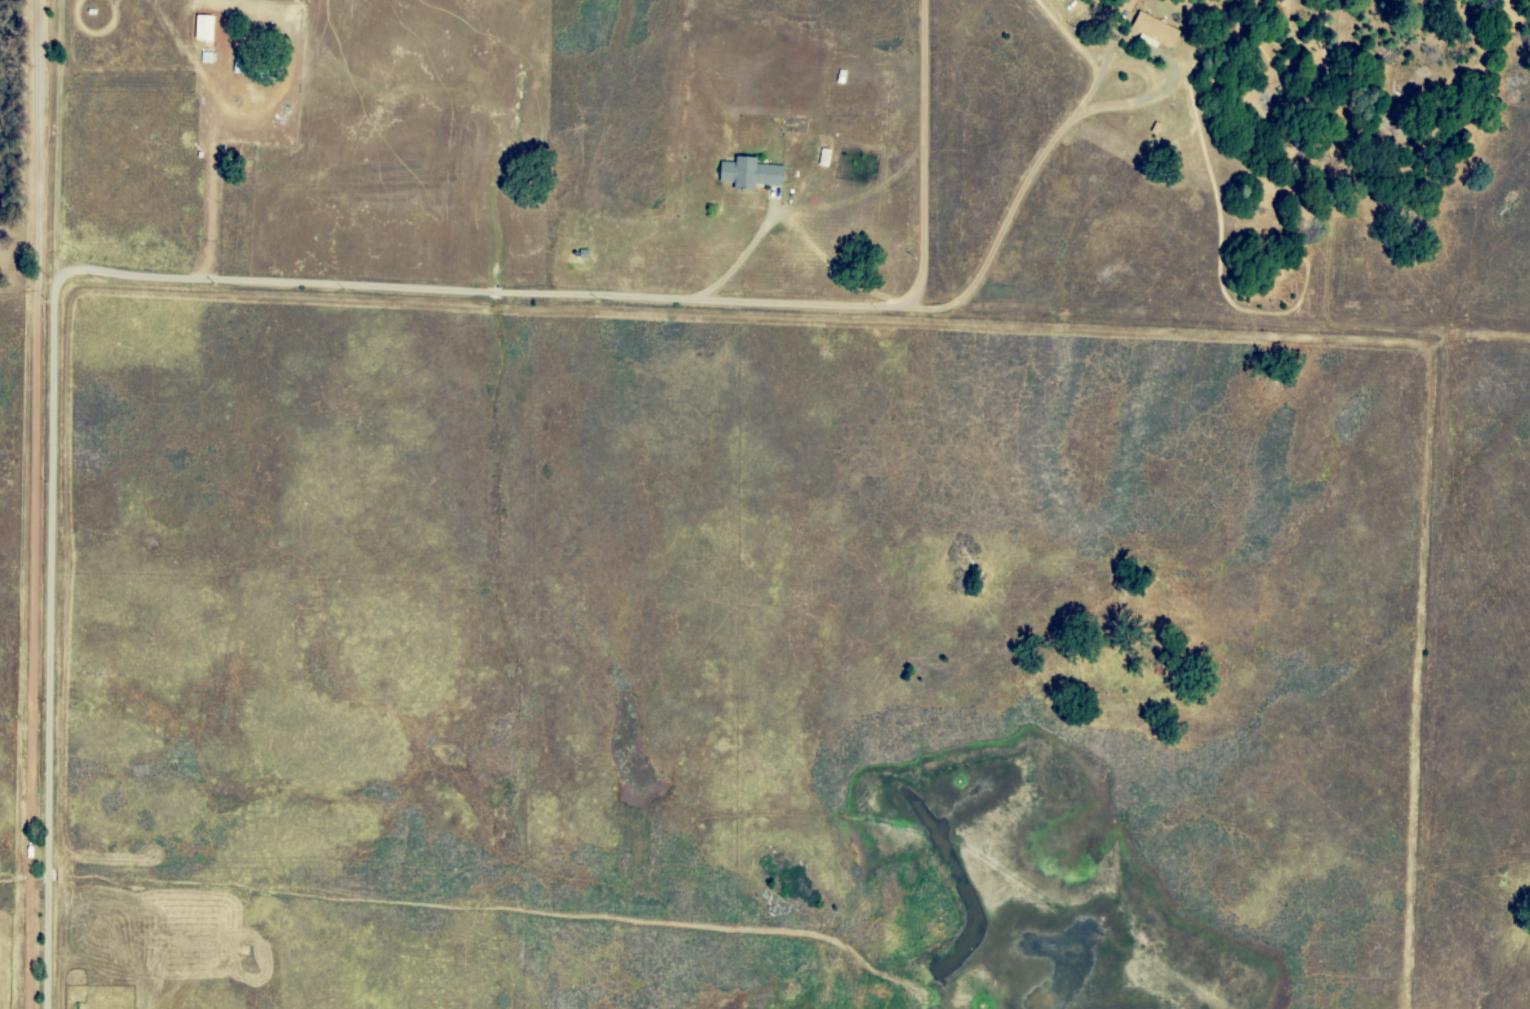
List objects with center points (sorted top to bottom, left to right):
building: (204, 28)
building: (1149, 29)
road: (924, 157)
building: (750, 174)
road: (680, 304)
road: (40, 504)
road: (57, 504)
road: (901, 723)

